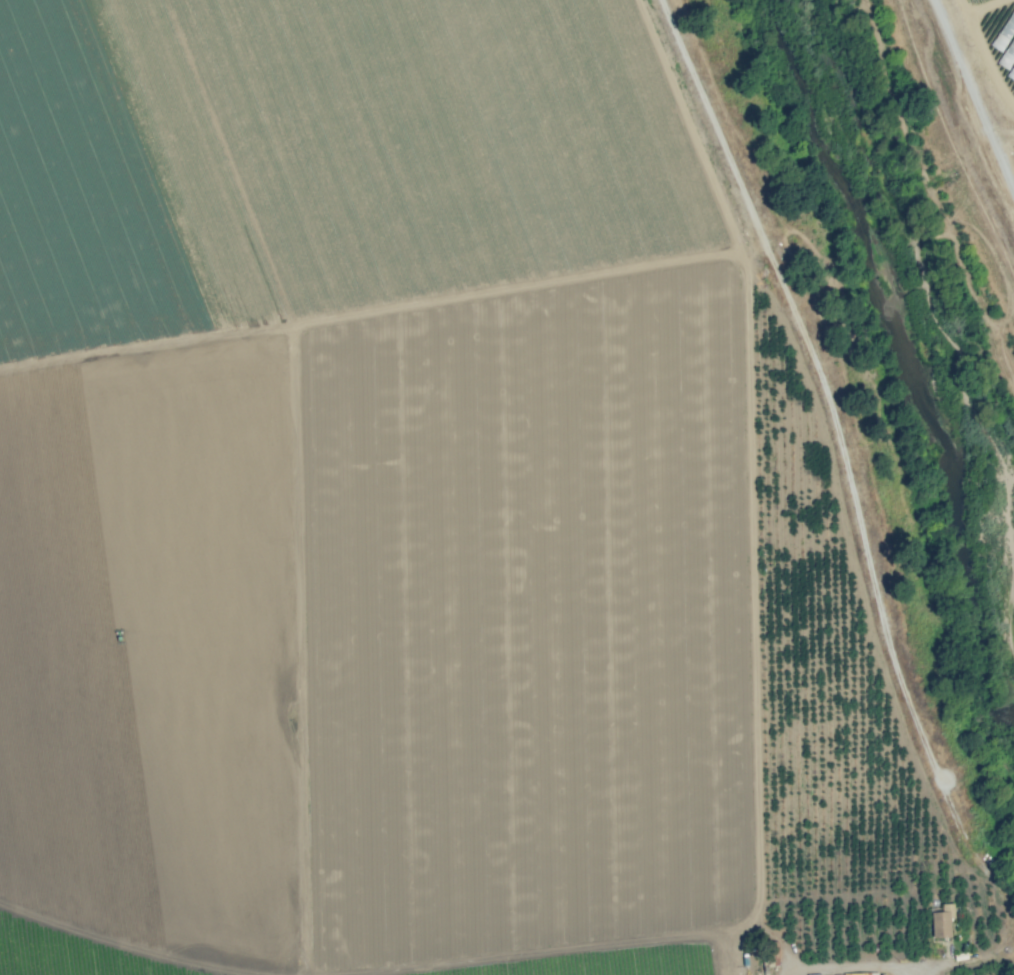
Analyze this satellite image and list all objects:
road: (949, 12)
crop: (906, 40)
road: (978, 41)
river: (969, 382)
crop: (431, 524)
building: (942, 920)
road: (861, 966)
building: (857, 973)

